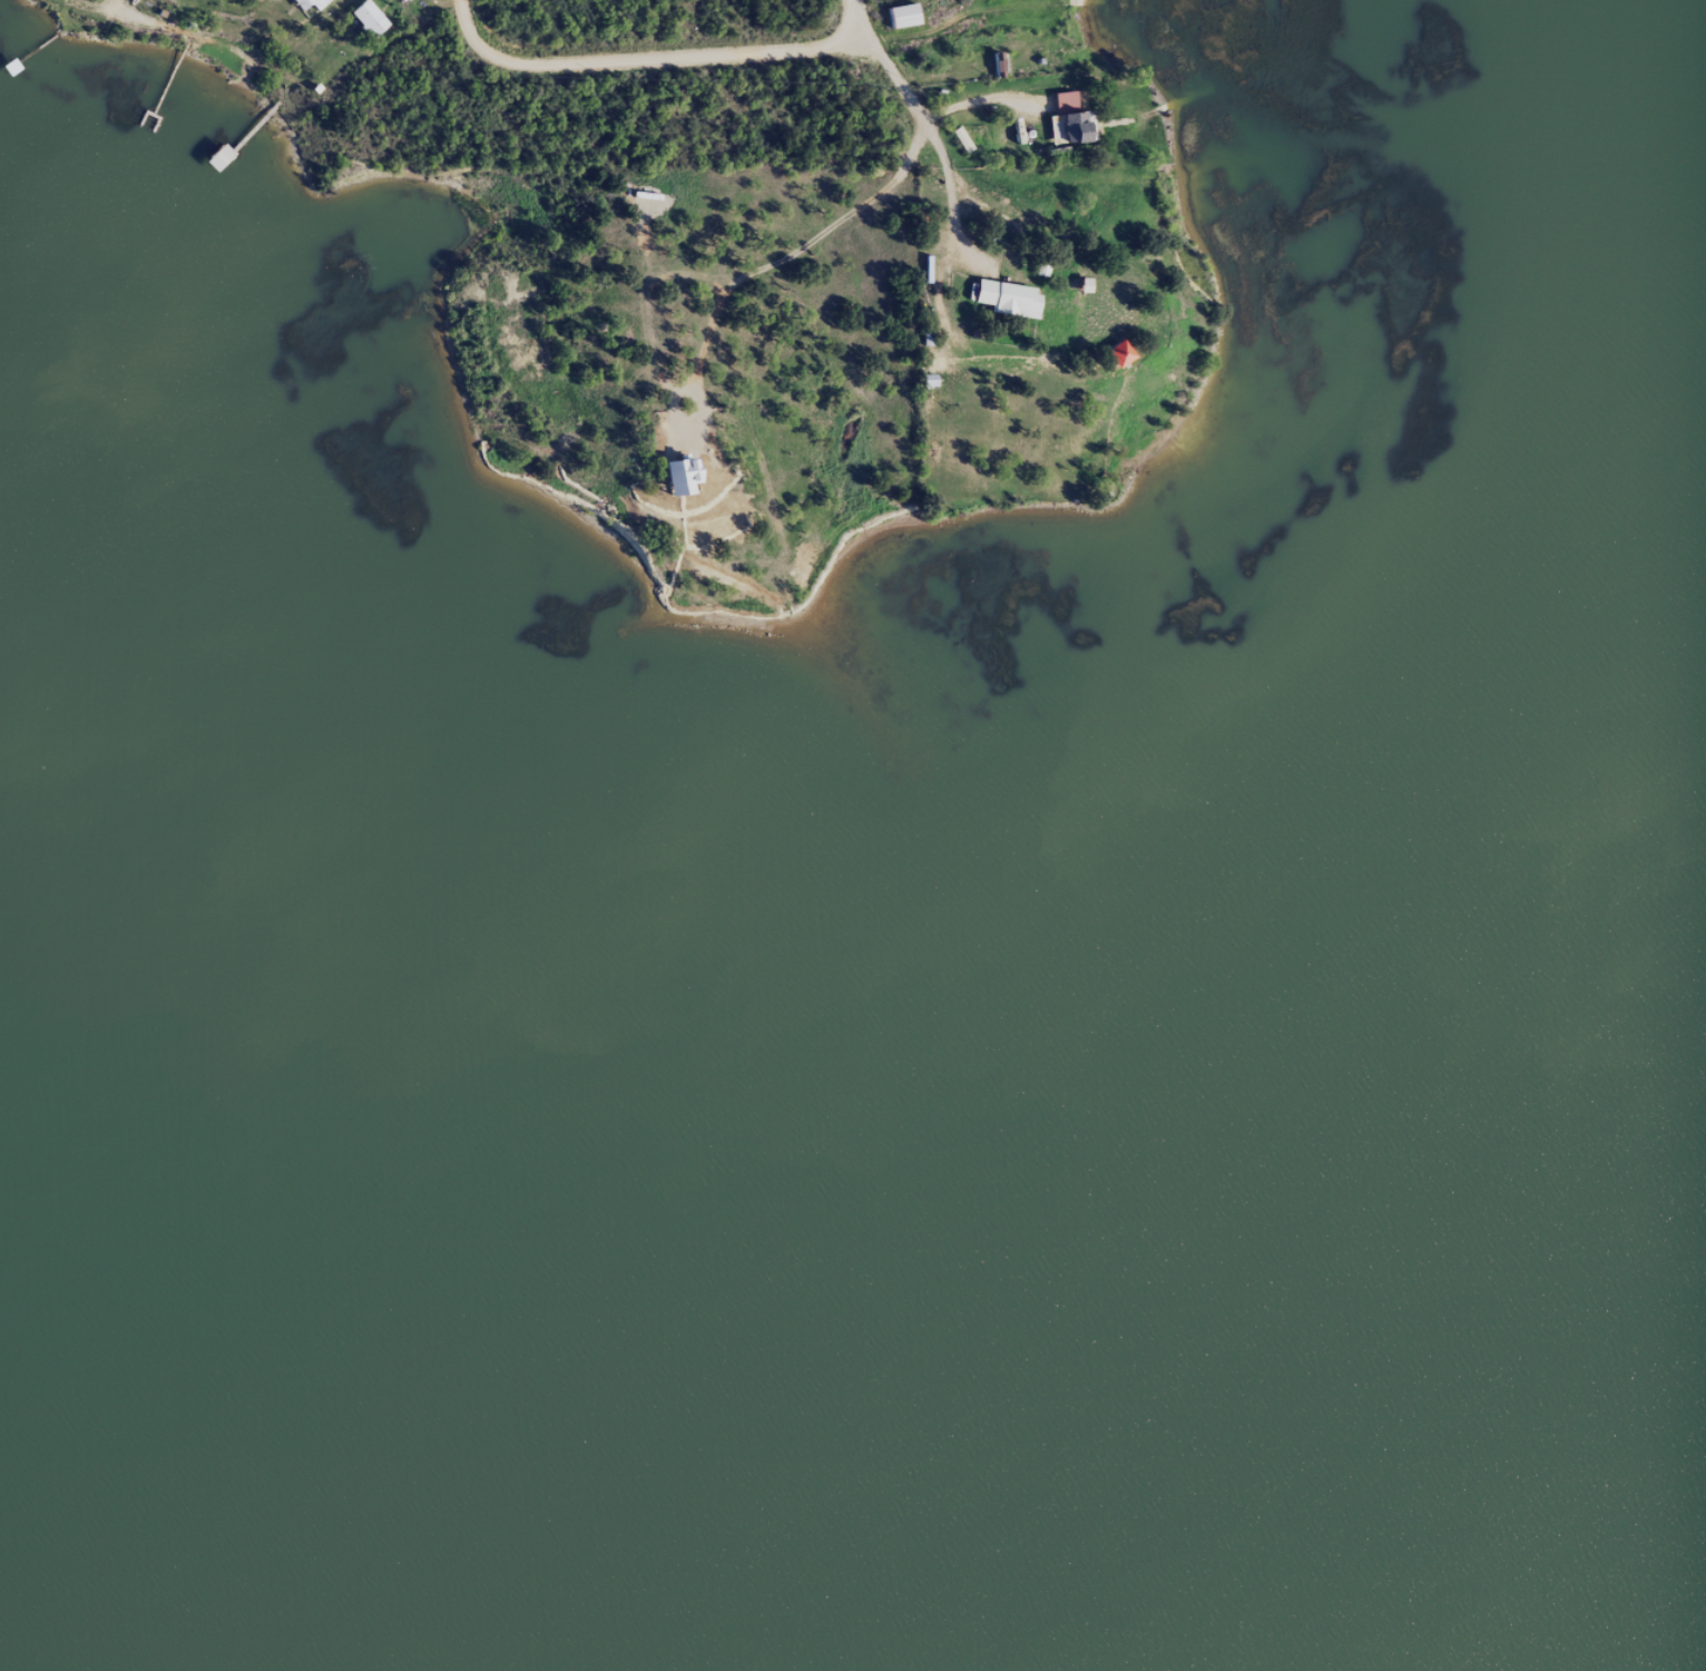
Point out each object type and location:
building: (352, 0)
building: (259, 2)
building: (398, 3)
building: (307, 8)
building: (896, 25)
building: (364, 26)
road: (322, 57)
road: (885, 57)
road: (653, 59)
road: (951, 198)
road: (755, 272)
building: (1002, 306)
building: (1114, 362)
building: (674, 486)

